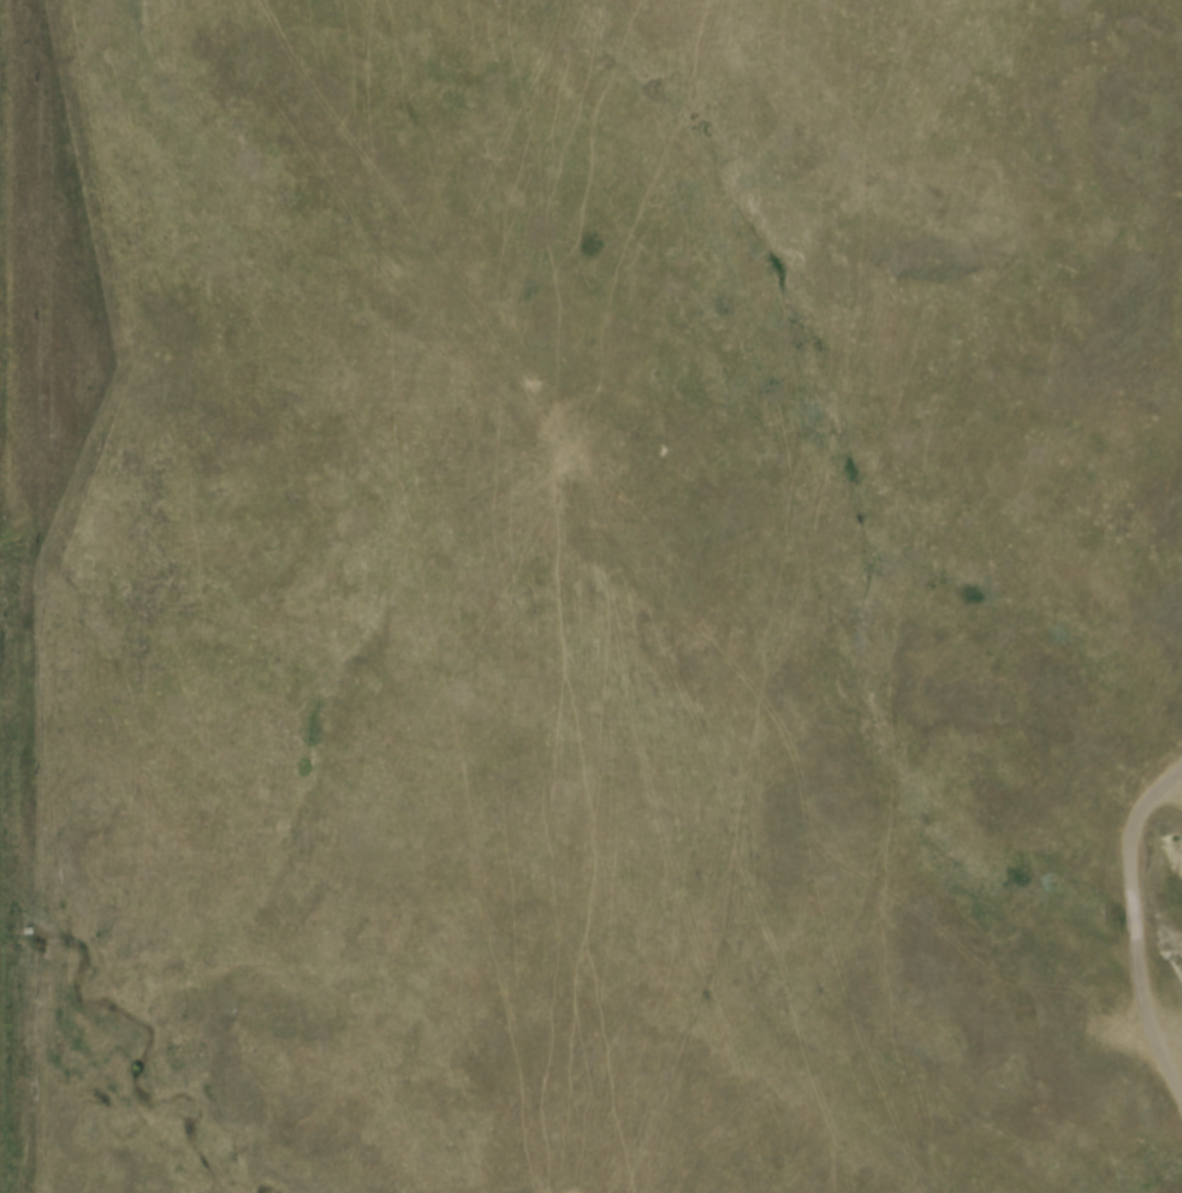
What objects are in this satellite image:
road: (1141, 934)

